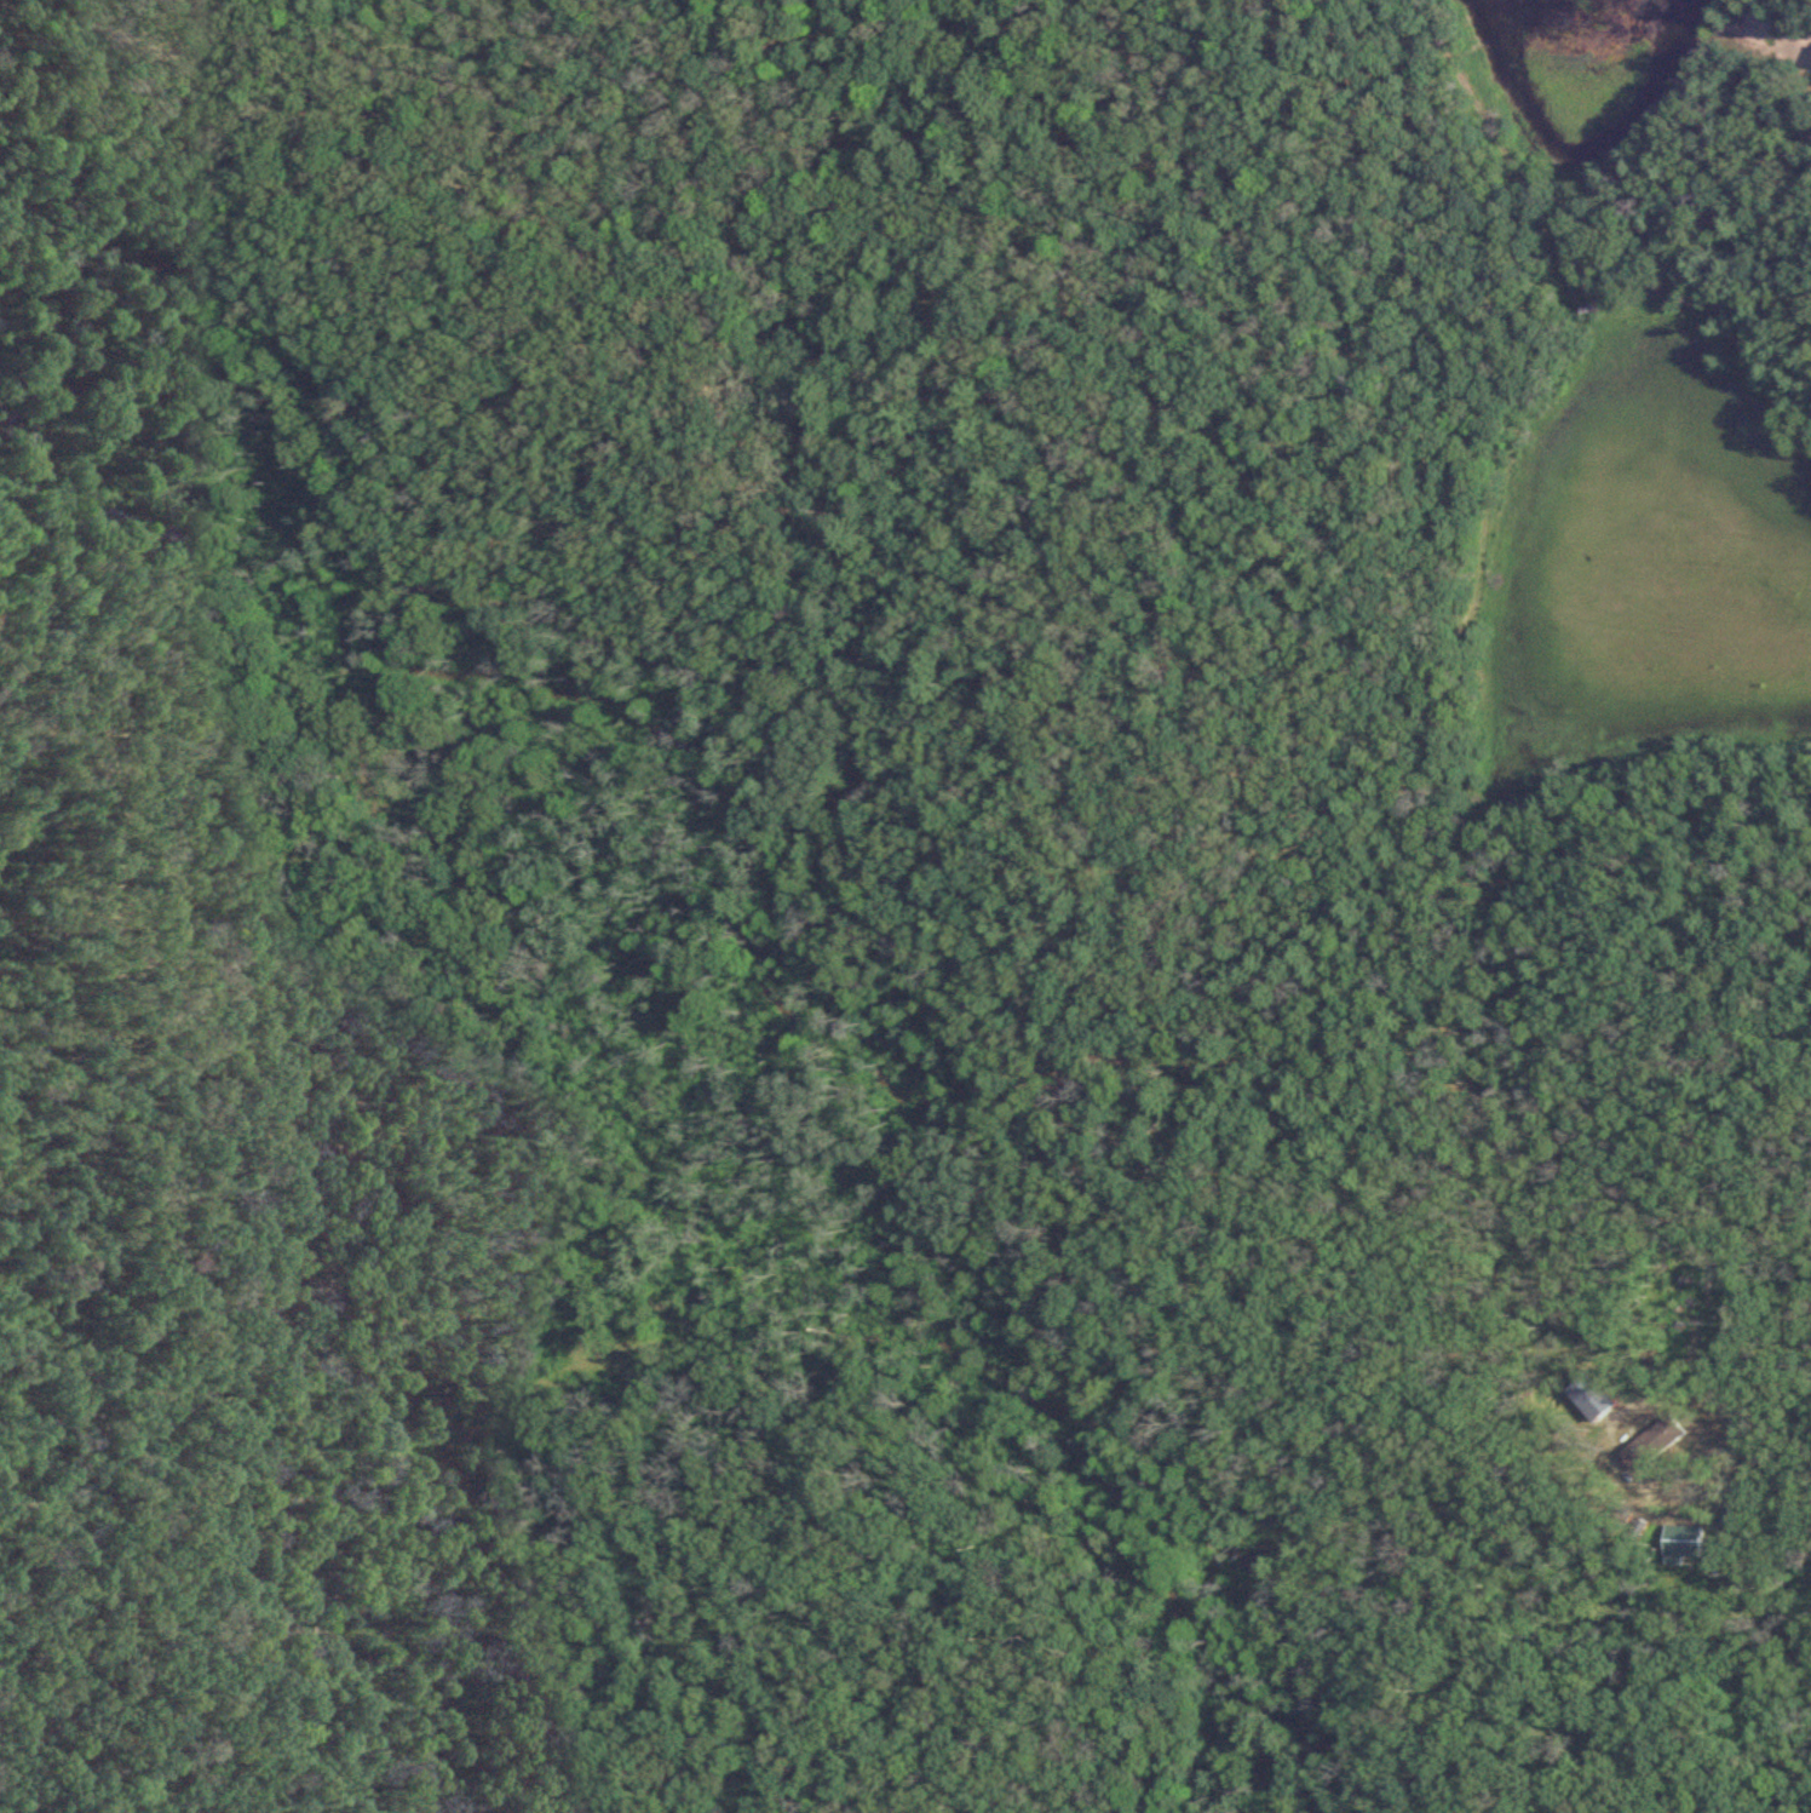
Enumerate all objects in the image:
building: (1672, 1435)
road: (1792, 1469)
road: (1658, 1494)
road: (91, 1654)

